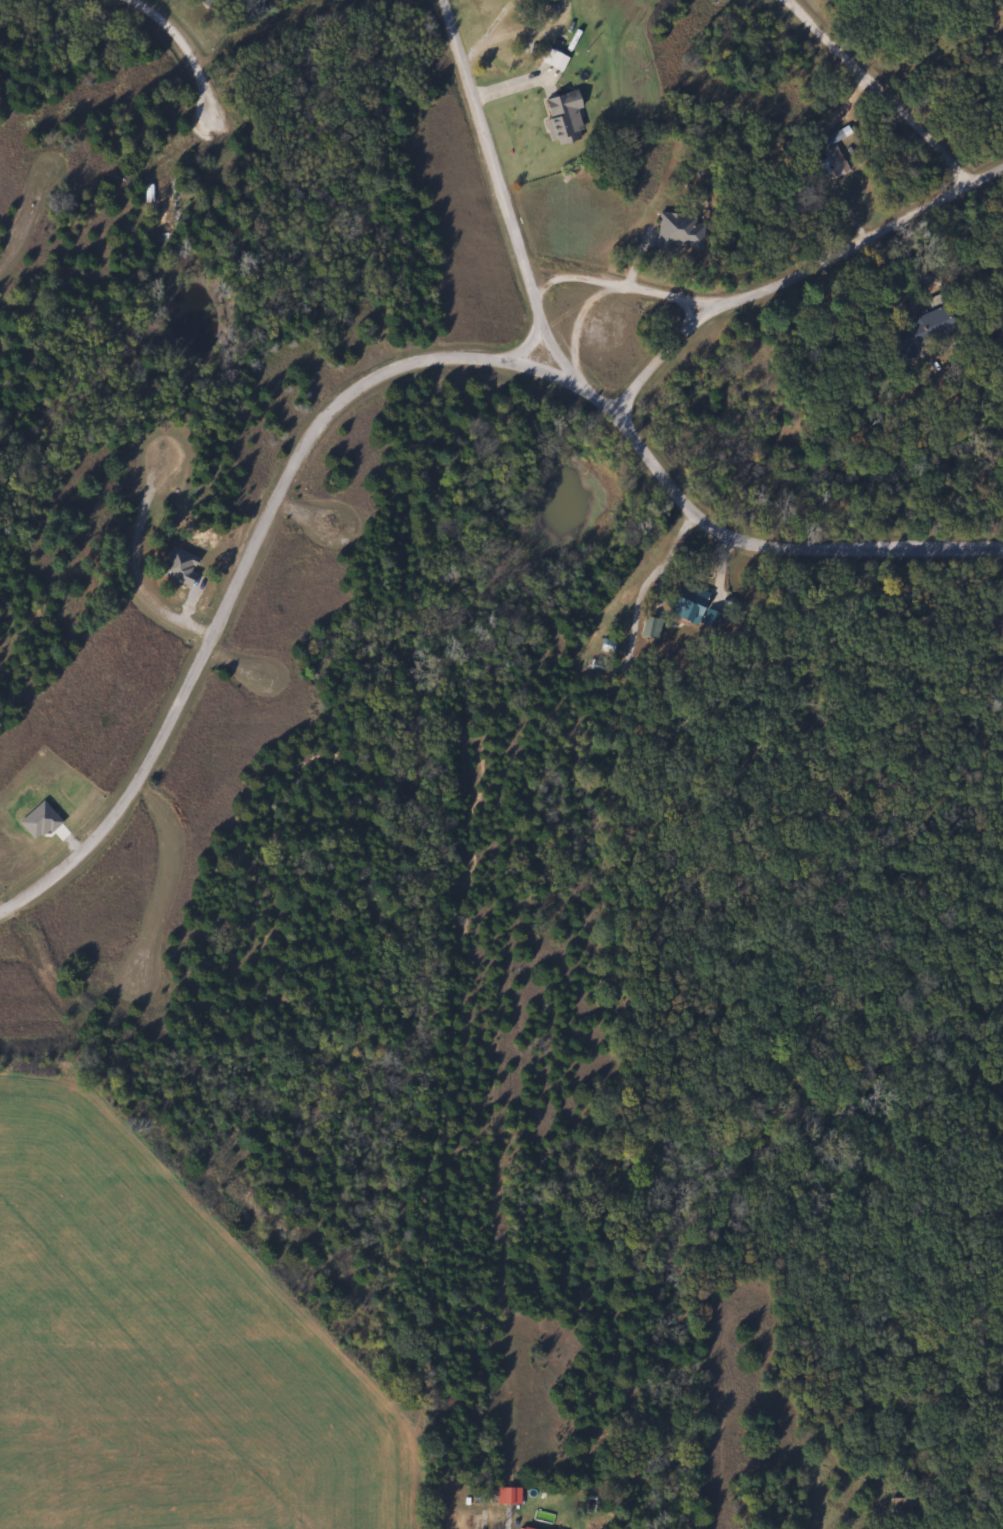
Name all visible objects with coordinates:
building: (555, 61)
road: (200, 75)
road: (885, 93)
building: (558, 116)
road: (486, 134)
building: (833, 160)
building: (158, 205)
road: (15, 213)
building: (675, 230)
road: (778, 289)
road: (544, 317)
building: (912, 334)
road: (663, 359)
road: (392, 366)
road: (311, 508)
building: (176, 567)
road: (146, 590)
building: (684, 601)
building: (1001, 628)
road: (166, 871)
road: (424, 1432)

